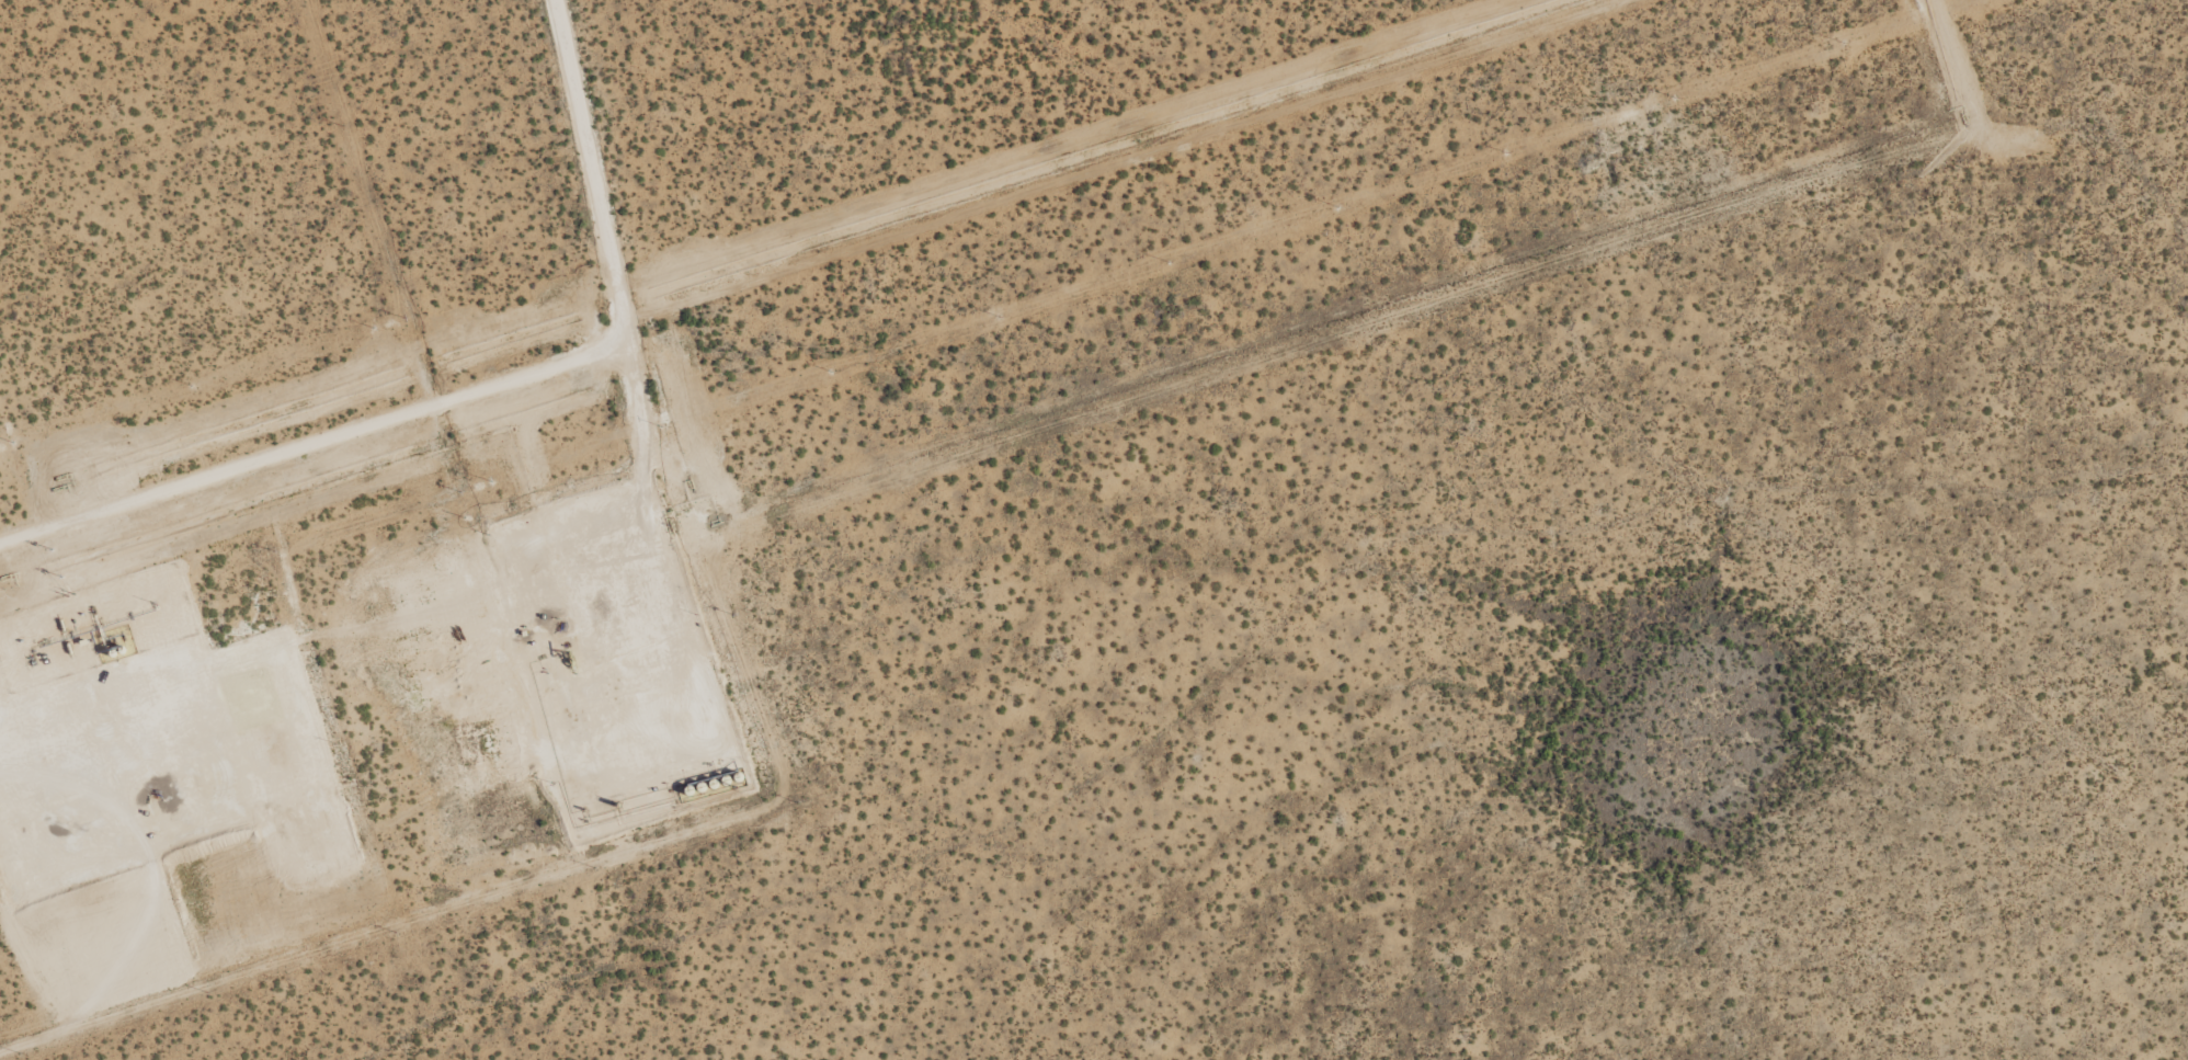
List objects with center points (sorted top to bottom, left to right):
road: (1982, 137)
road: (609, 265)
road: (1252, 704)

